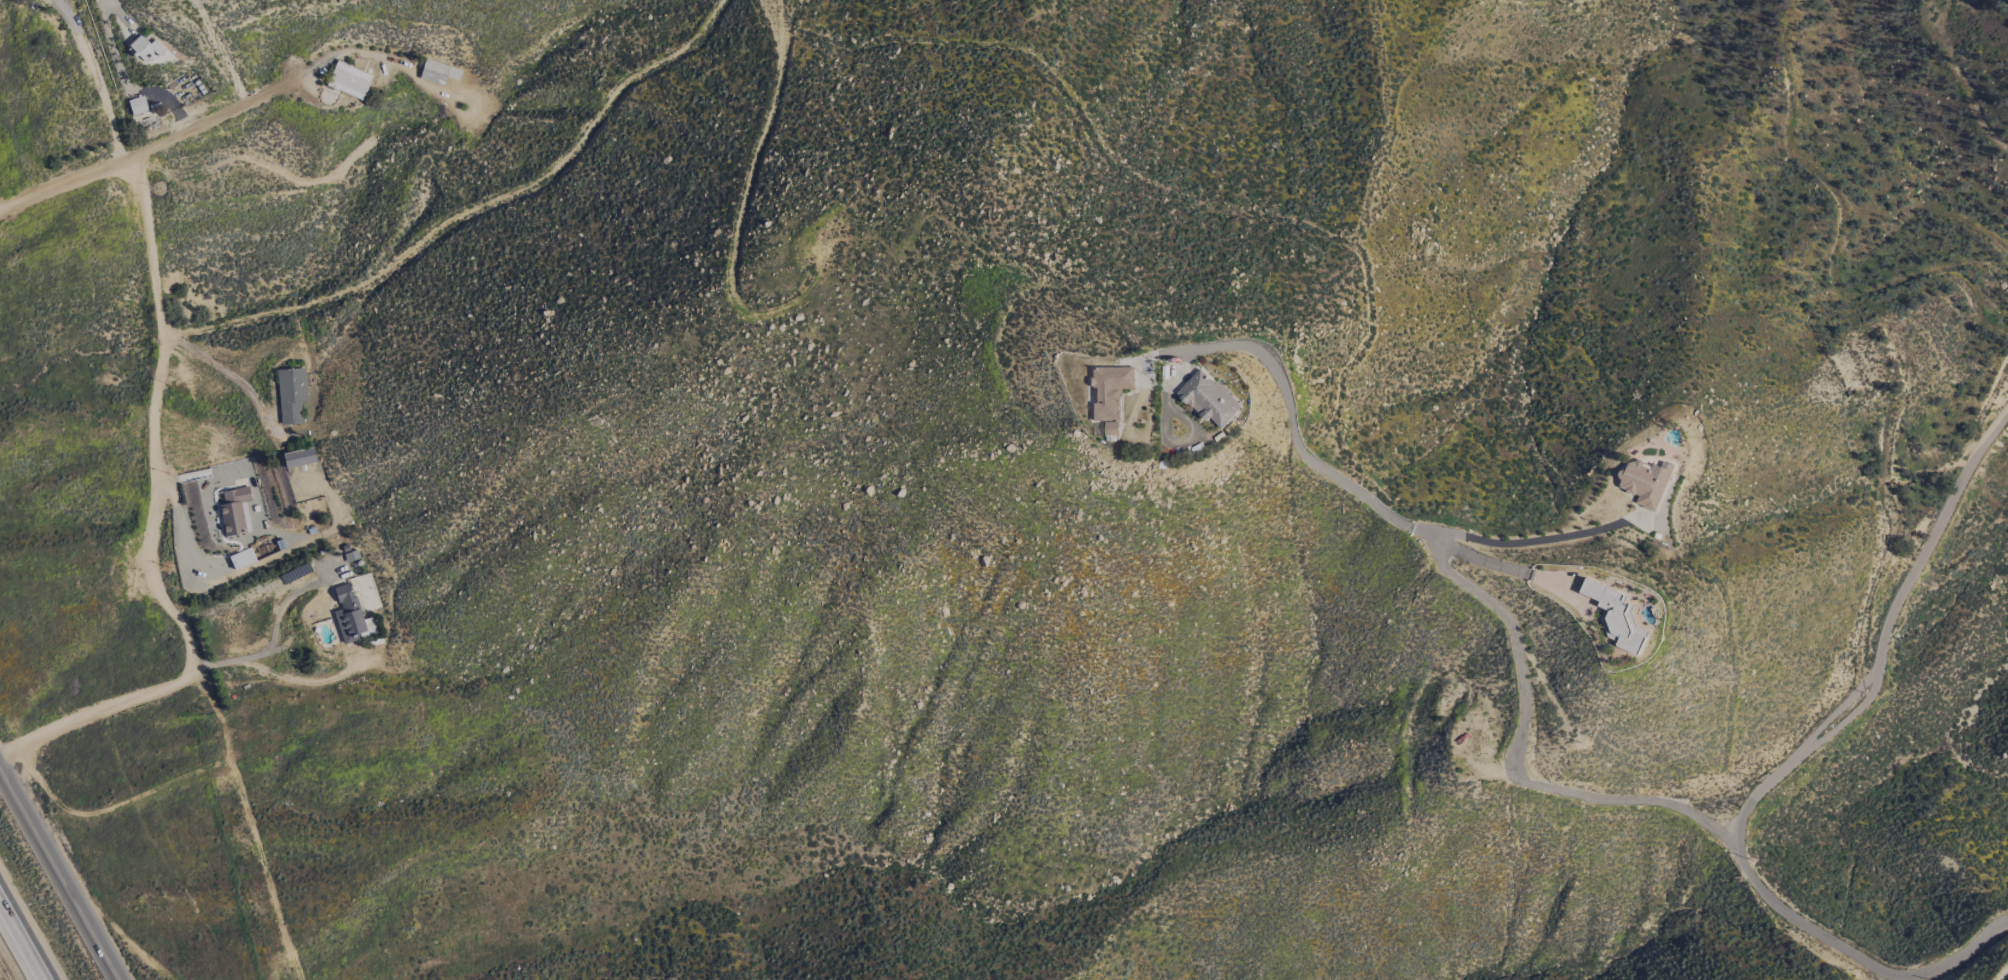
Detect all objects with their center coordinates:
building: (145, 46)
building: (437, 72)
building: (349, 80)
road: (100, 83)
building: (137, 105)
road: (146, 153)
road: (228, 372)
building: (1109, 390)
building: (291, 395)
building: (1208, 399)
building: (1111, 428)
road: (1297, 435)
building: (299, 458)
building: (1645, 482)
building: (236, 525)
road: (157, 526)
road: (182, 539)
road: (1539, 540)
building: (354, 607)
building: (1616, 617)
road: (270, 645)
road: (1514, 756)
road: (1783, 769)
road: (251, 824)
road: (58, 876)
road: (22, 940)
road: (2004, 975)

